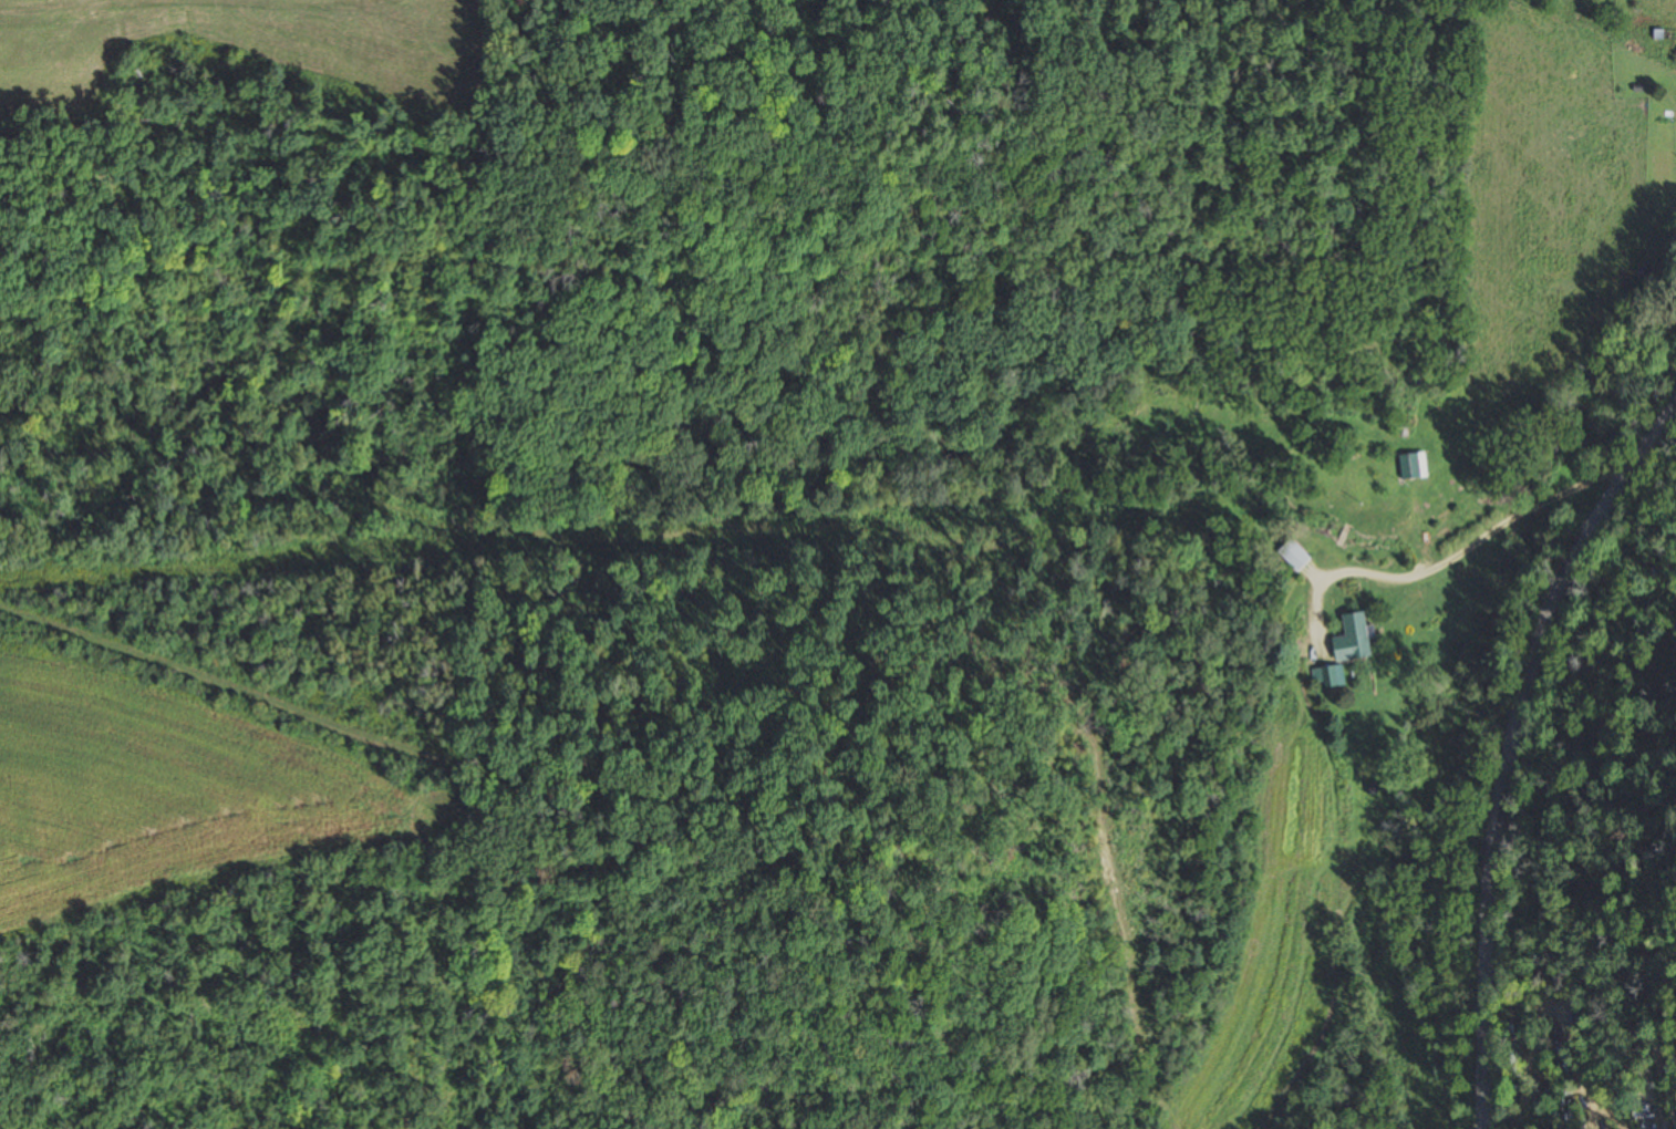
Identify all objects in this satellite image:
building: (1646, 283)
building: (1411, 466)
building: (1292, 555)
building: (1349, 638)
building: (1332, 676)
road: (1522, 740)

